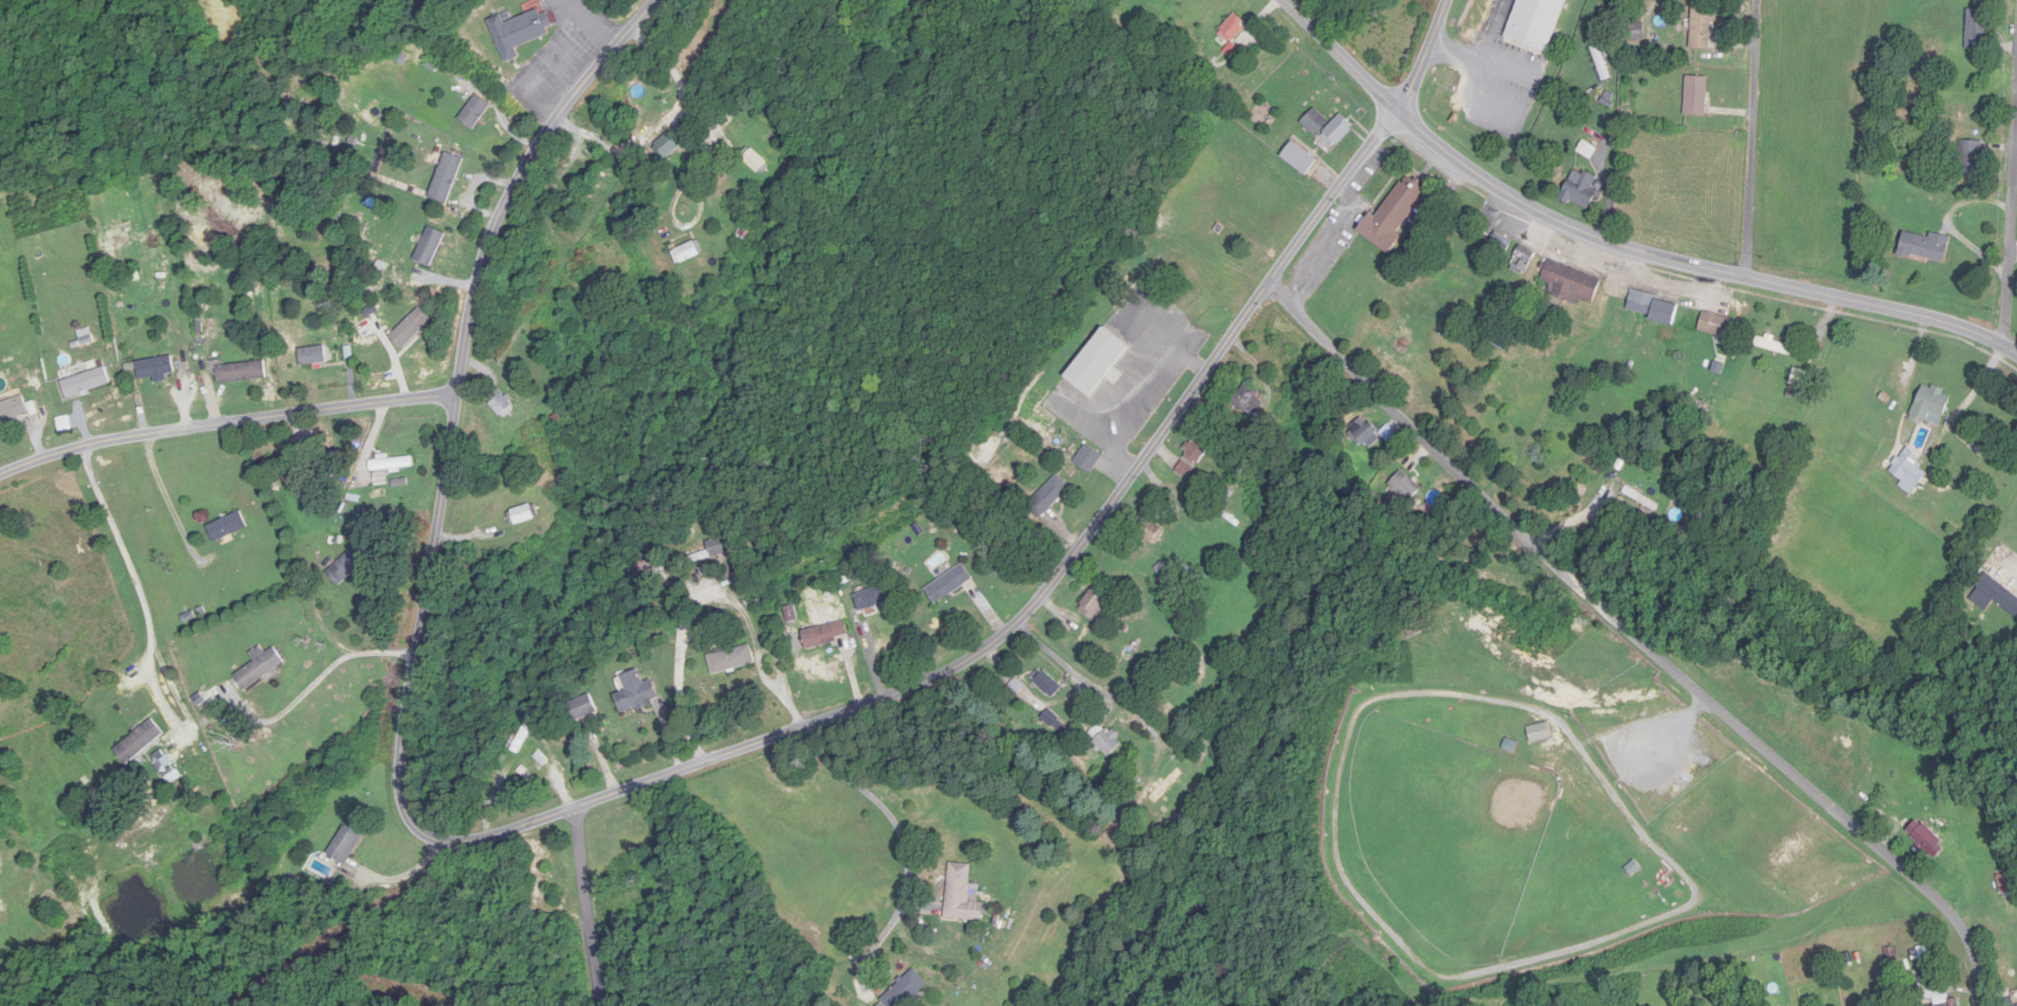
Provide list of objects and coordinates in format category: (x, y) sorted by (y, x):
building: (1536, 23)
building: (1701, 28)
building: (1232, 29)
building: (1976, 30)
building: (523, 32)
building: (1636, 33)
road: (1426, 57)
building: (1601, 63)
road: (682, 72)
building: (1695, 96)
building: (476, 112)
building: (1314, 122)
building: (1338, 130)
road: (1753, 139)
building: (669, 148)
building: (1298, 159)
building: (1970, 159)
building: (757, 162)
building: (446, 178)
building: (1580, 189)
building: (1392, 215)
building: (746, 234)
road: (2011, 234)
building: (1501, 242)
road: (1617, 243)
building: (432, 247)
building: (1924, 247)
building: (689, 253)
building: (1523, 260)
building: (1571, 284)
building: (1652, 307)
building: (1537, 316)
building: (1716, 326)
building: (414, 328)
building: (1795, 333)
building: (1775, 346)
building: (314, 356)
building: (1101, 362)
building: (156, 368)
building: (242, 372)
building: (1798, 378)
building: (87, 382)
building: (502, 404)
building: (1930, 404)
building: (13, 409)
road: (223, 424)
building: (1362, 432)
building: (1196, 452)
building: (1089, 458)
building: (389, 467)
building: (1908, 471)
building: (1404, 486)
building: (1050, 496)
building: (1641, 499)
road: (168, 501)
building: (524, 515)
building: (1148, 525)
building: (227, 527)
building: (710, 551)
building: (351, 563)
building: (653, 564)
building: (949, 584)
road: (139, 588)
building: (1994, 594)
building: (871, 599)
building: (1095, 606)
road: (322, 624)
building: (1415, 626)
building: (827, 635)
road: (1642, 639)
building: (731, 660)
road: (1065, 662)
building: (262, 667)
road: (678, 675)
road: (316, 683)
building: (1049, 685)
building: (637, 693)
building: (585, 708)
building: (1538, 733)
building: (141, 741)
building: (1107, 741)
road: (602, 798)
building: (1926, 839)
road: (902, 841)
building: (348, 844)
building: (962, 894)
road: (597, 903)
building: (2011, 981)
building: (908, 990)
building: (1936, 990)
building: (2008, 1002)

